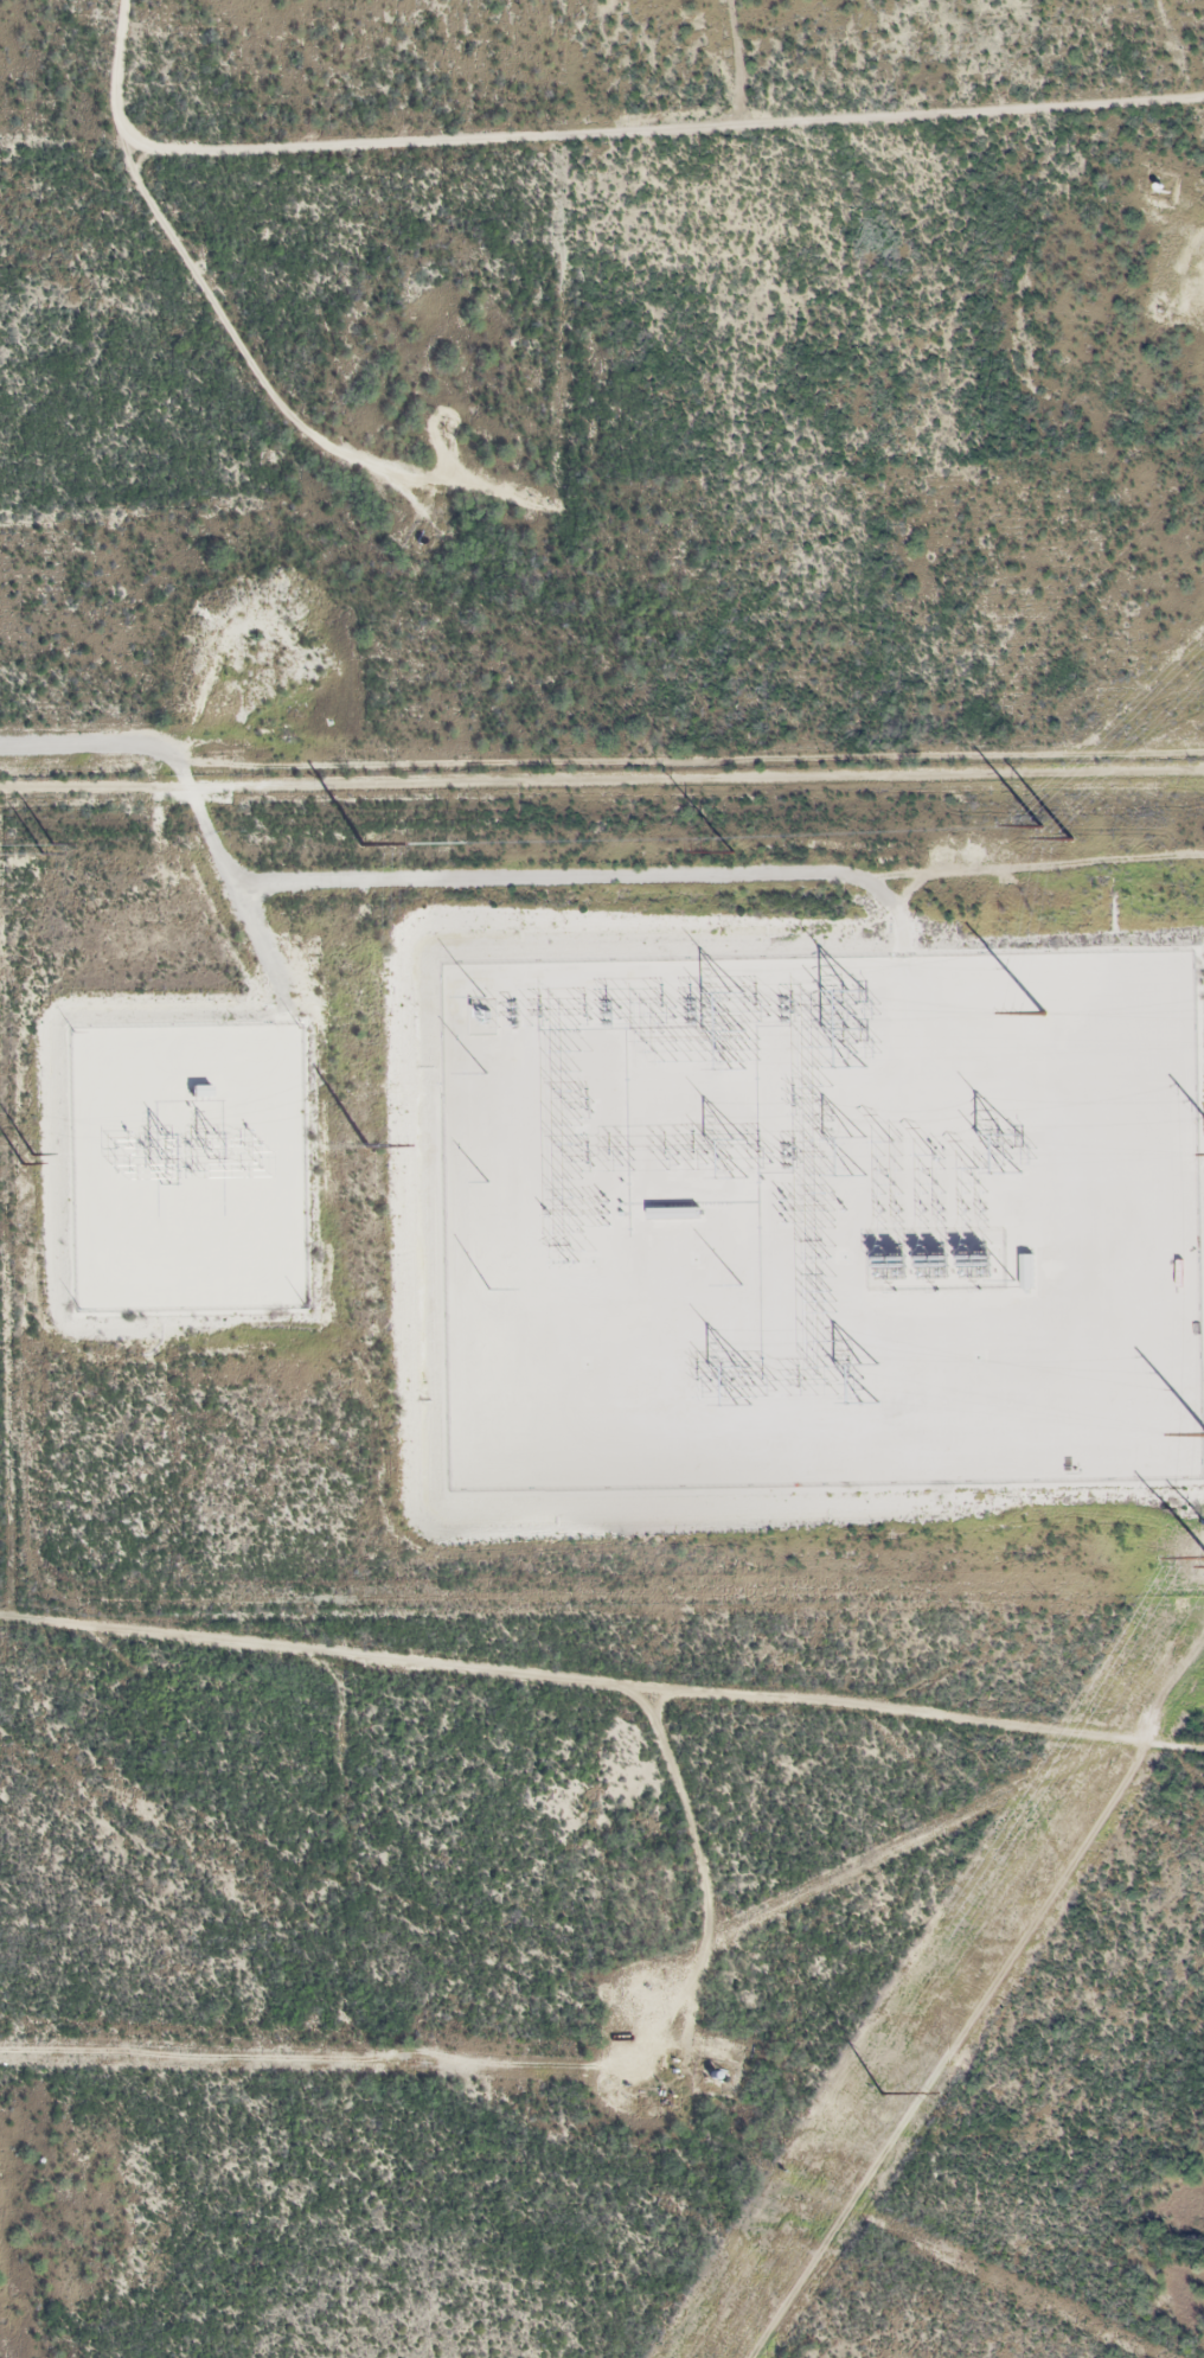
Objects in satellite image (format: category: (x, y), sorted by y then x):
power tower: (1040, 824)
power tower: (1070, 838)
power tower: (51, 843)
power tower: (361, 843)
power tower: (734, 851)
power tower: (43, 854)
power tower: (1043, 1012)
building: (198, 1089)
power tower: (367, 1146)
power tower: (32, 1154)
power tower: (21, 1163)
power substation: (188, 1168)
power substation: (821, 1220)
road: (602, 1695)
power tower: (880, 2092)

